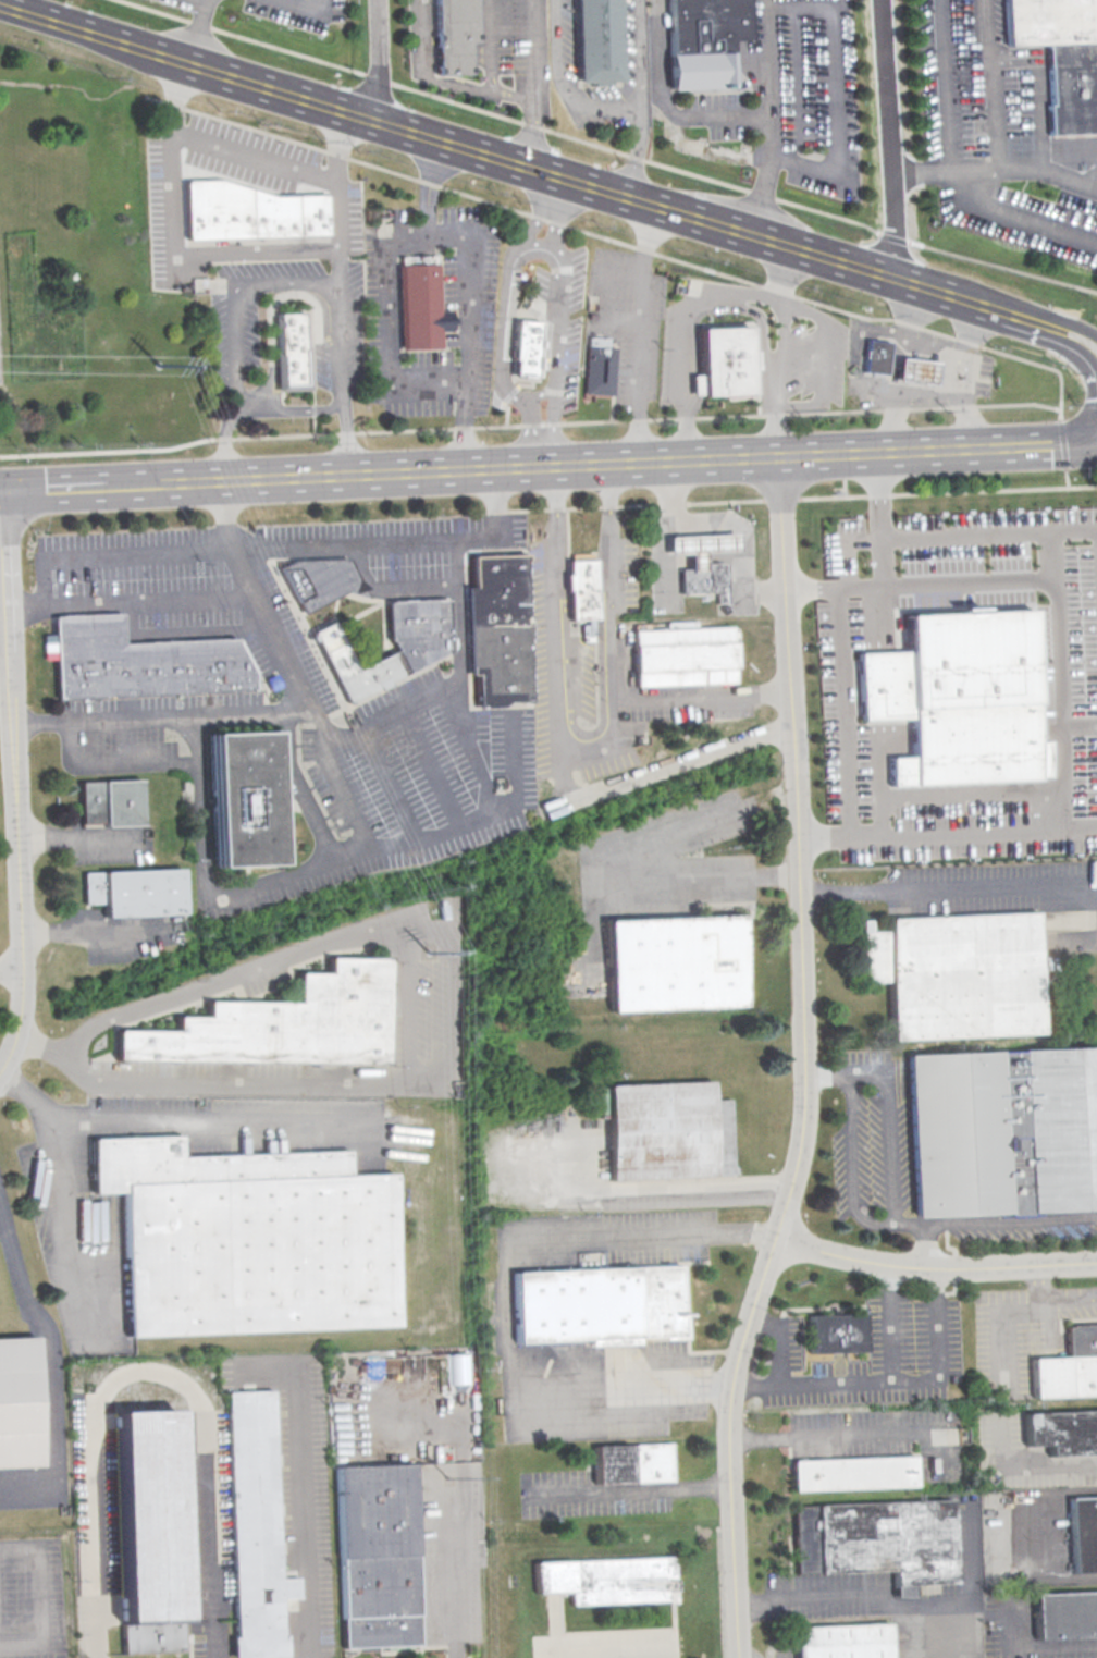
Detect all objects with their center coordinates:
road: (194, 0)
road: (311, 5)
parking lot: (297, 11)
building: (1052, 22)
road: (194, 30)
road: (91, 32)
building: (452, 35)
parking lot: (631, 37)
building: (595, 41)
building: (704, 42)
road: (488, 45)
road: (638, 52)
road: (377, 61)
road: (442, 78)
parking lot: (763, 82)
road: (531, 84)
road: (996, 84)
road: (563, 86)
road: (1038, 90)
road: (175, 95)
road: (667, 102)
building: (1074, 108)
road: (767, 118)
road: (838, 125)
parking lot: (994, 130)
road: (891, 139)
road: (335, 147)
road: (609, 147)
road: (636, 151)
road: (241, 152)
road: (996, 168)
road: (951, 173)
road: (427, 187)
road: (593, 188)
road: (539, 210)
road: (559, 211)
building: (249, 213)
parking lot: (167, 219)
road: (395, 235)
road: (645, 241)
road: (545, 242)
road: (640, 248)
road: (257, 251)
building: (418, 258)
road: (780, 274)
road: (317, 282)
road: (683, 306)
road: (605, 308)
building: (421, 309)
parking lot: (628, 318)
road: (814, 318)
parking lot: (476, 319)
parking lot: (564, 319)
road: (1052, 319)
parking lot: (235, 329)
road: (761, 331)
road: (1057, 339)
building: (527, 348)
building: (877, 355)
building: (292, 357)
building: (723, 364)
power tower: (155, 366)
road: (896, 366)
building: (601, 368)
building: (920, 369)
road: (965, 373)
parking lot: (982, 373)
road: (291, 409)
road: (530, 423)
road: (463, 426)
road: (637, 431)
road: (773, 431)
road: (529, 433)
road: (685, 435)
road: (222, 443)
road: (636, 464)
road: (148, 486)
road: (64, 489)
road: (3, 492)
traffic signals: (8, 492)
road: (797, 498)
road: (495, 501)
road: (879, 518)
road: (732, 521)
building: (704, 545)
road: (9, 549)
road: (143, 552)
road: (1055, 556)
road: (840, 557)
building: (708, 578)
building: (320, 581)
road: (611, 582)
road: (969, 582)
road: (414, 586)
building: (582, 597)
road: (28, 605)
road: (5, 623)
road: (458, 630)
road: (182, 631)
building: (500, 631)
building: (420, 652)
building: (685, 656)
building: (141, 663)
road: (286, 667)
parking lot: (300, 691)
building: (958, 702)
road: (1059, 704)
road: (392, 711)
road: (115, 721)
road: (46, 724)
road: (471, 742)
road: (563, 744)
road: (432, 765)
road: (387, 783)
road: (301, 789)
road: (954, 798)
building: (243, 799)
building: (111, 803)
road: (199, 814)
road: (948, 832)
road: (76, 837)
road: (408, 839)
road: (20, 842)
road: (702, 875)
road: (949, 887)
building: (134, 893)
power tower: (428, 935)
building: (675, 963)
road: (11, 969)
building: (958, 974)
road: (408, 1020)
building: (282, 1023)
road: (809, 1061)
road: (164, 1122)
building: (658, 1131)
building: (1004, 1132)
road: (851, 1165)
road: (656, 1183)
road: (895, 1207)
road: (78, 1226)
building: (249, 1241)
road: (925, 1244)
road: (935, 1266)
road: (1052, 1299)
road: (508, 1300)
building: (599, 1307)
building: (836, 1334)
road: (777, 1361)
road: (145, 1366)
road: (46, 1367)
building: (457, 1368)
building: (1068, 1368)
road: (833, 1380)
road: (911, 1384)
building: (19, 1403)
building: (1062, 1433)
road: (855, 1434)
power tower: (447, 1452)
road: (1024, 1463)
building: (632, 1464)
building: (853, 1475)
road: (638, 1489)
road: (458, 1495)
road: (304, 1514)
building: (257, 1527)
building: (151, 1531)
road: (1035, 1534)
building: (1083, 1534)
building: (879, 1542)
building: (377, 1557)
building: (611, 1581)
road: (39, 1599)
road: (902, 1602)
building: (1065, 1614)
parking lot: (602, 1642)
building: (843, 1642)
road: (1038, 1645)
road: (643, 1656)

